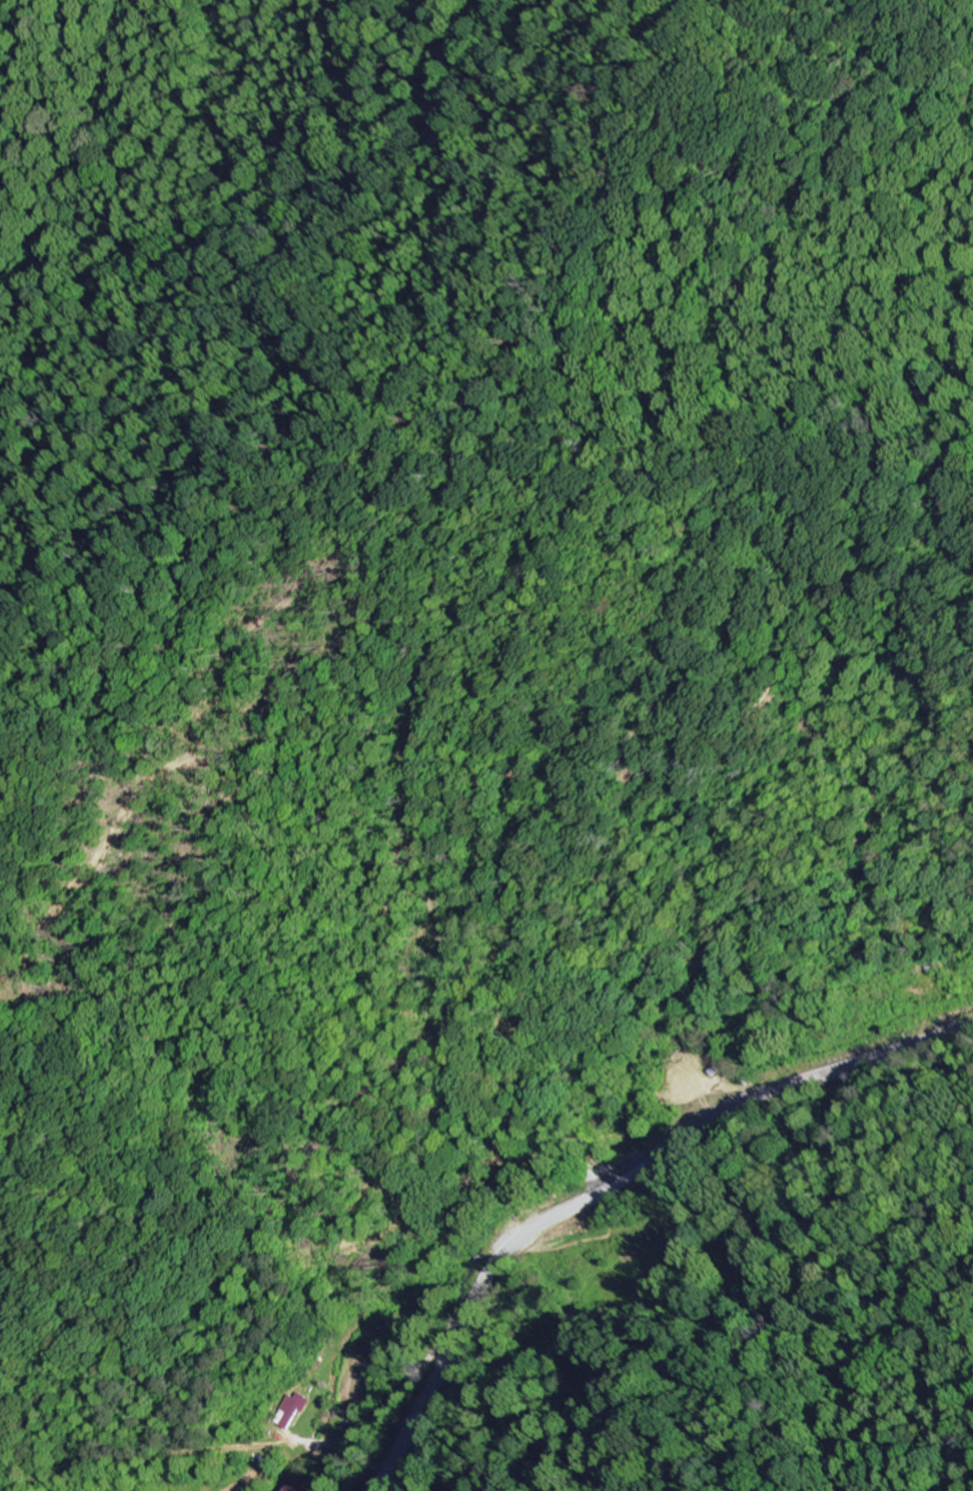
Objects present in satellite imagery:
road: (612, 1183)
building: (293, 1410)
road: (378, 1420)

